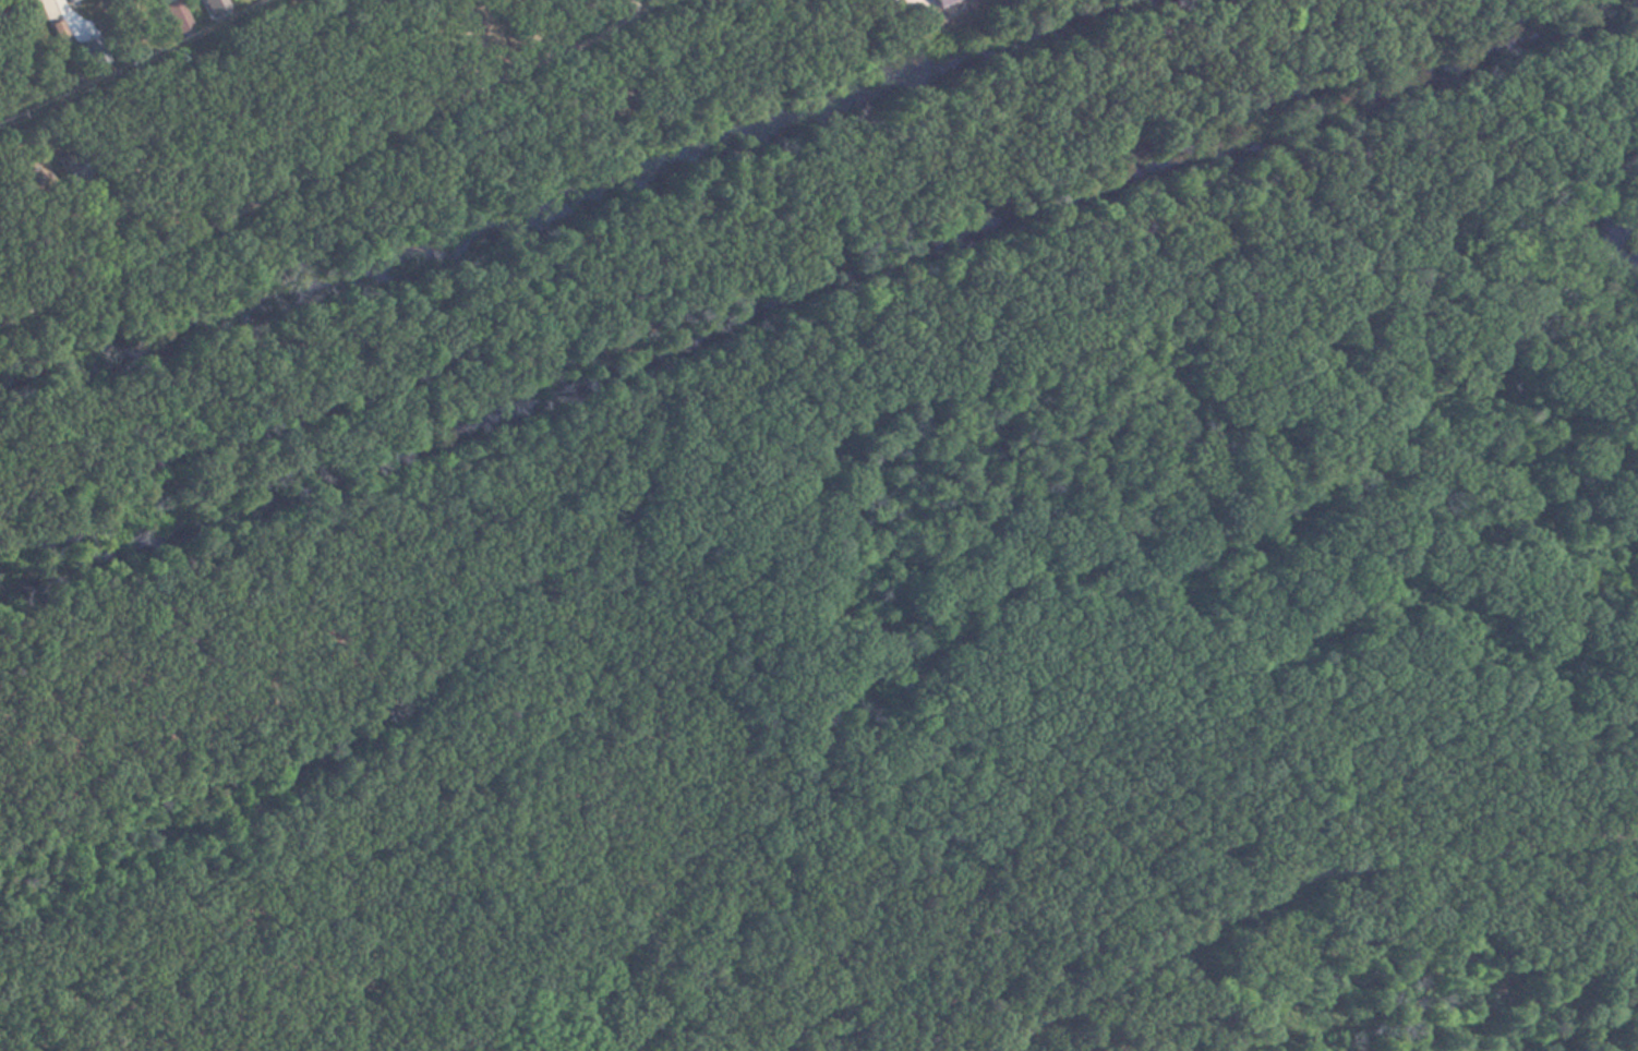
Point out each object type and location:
building: (25, 0)
building: (943, 2)
road: (631, 8)
road: (651, 8)
building: (176, 16)
road: (318, 169)
road: (1296, 874)
road: (1455, 951)

